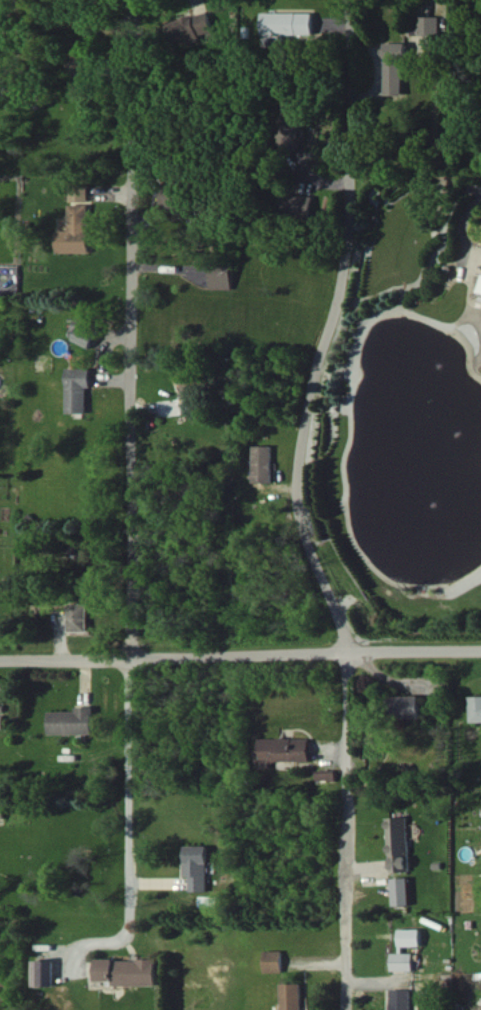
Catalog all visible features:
building: (285, 23)
building: (423, 25)
building: (188, 28)
building: (80, 59)
building: (392, 68)
building: (289, 126)
building: (78, 192)
building: (177, 192)
building: (296, 204)
building: (74, 231)
building: (221, 276)
building: (480, 288)
building: (85, 331)
building: (192, 388)
building: (79, 389)
road: (129, 443)
building: (261, 463)
road: (296, 506)
building: (80, 617)
road: (240, 656)
building: (408, 707)
building: (475, 708)
building: (72, 721)
building: (283, 750)
building: (325, 774)
building: (398, 844)
building: (197, 867)
building: (401, 891)
building: (410, 937)
road: (114, 940)
building: (274, 961)
building: (402, 961)
building: (128, 971)
building: (43, 973)
building: (292, 996)
building: (401, 999)

